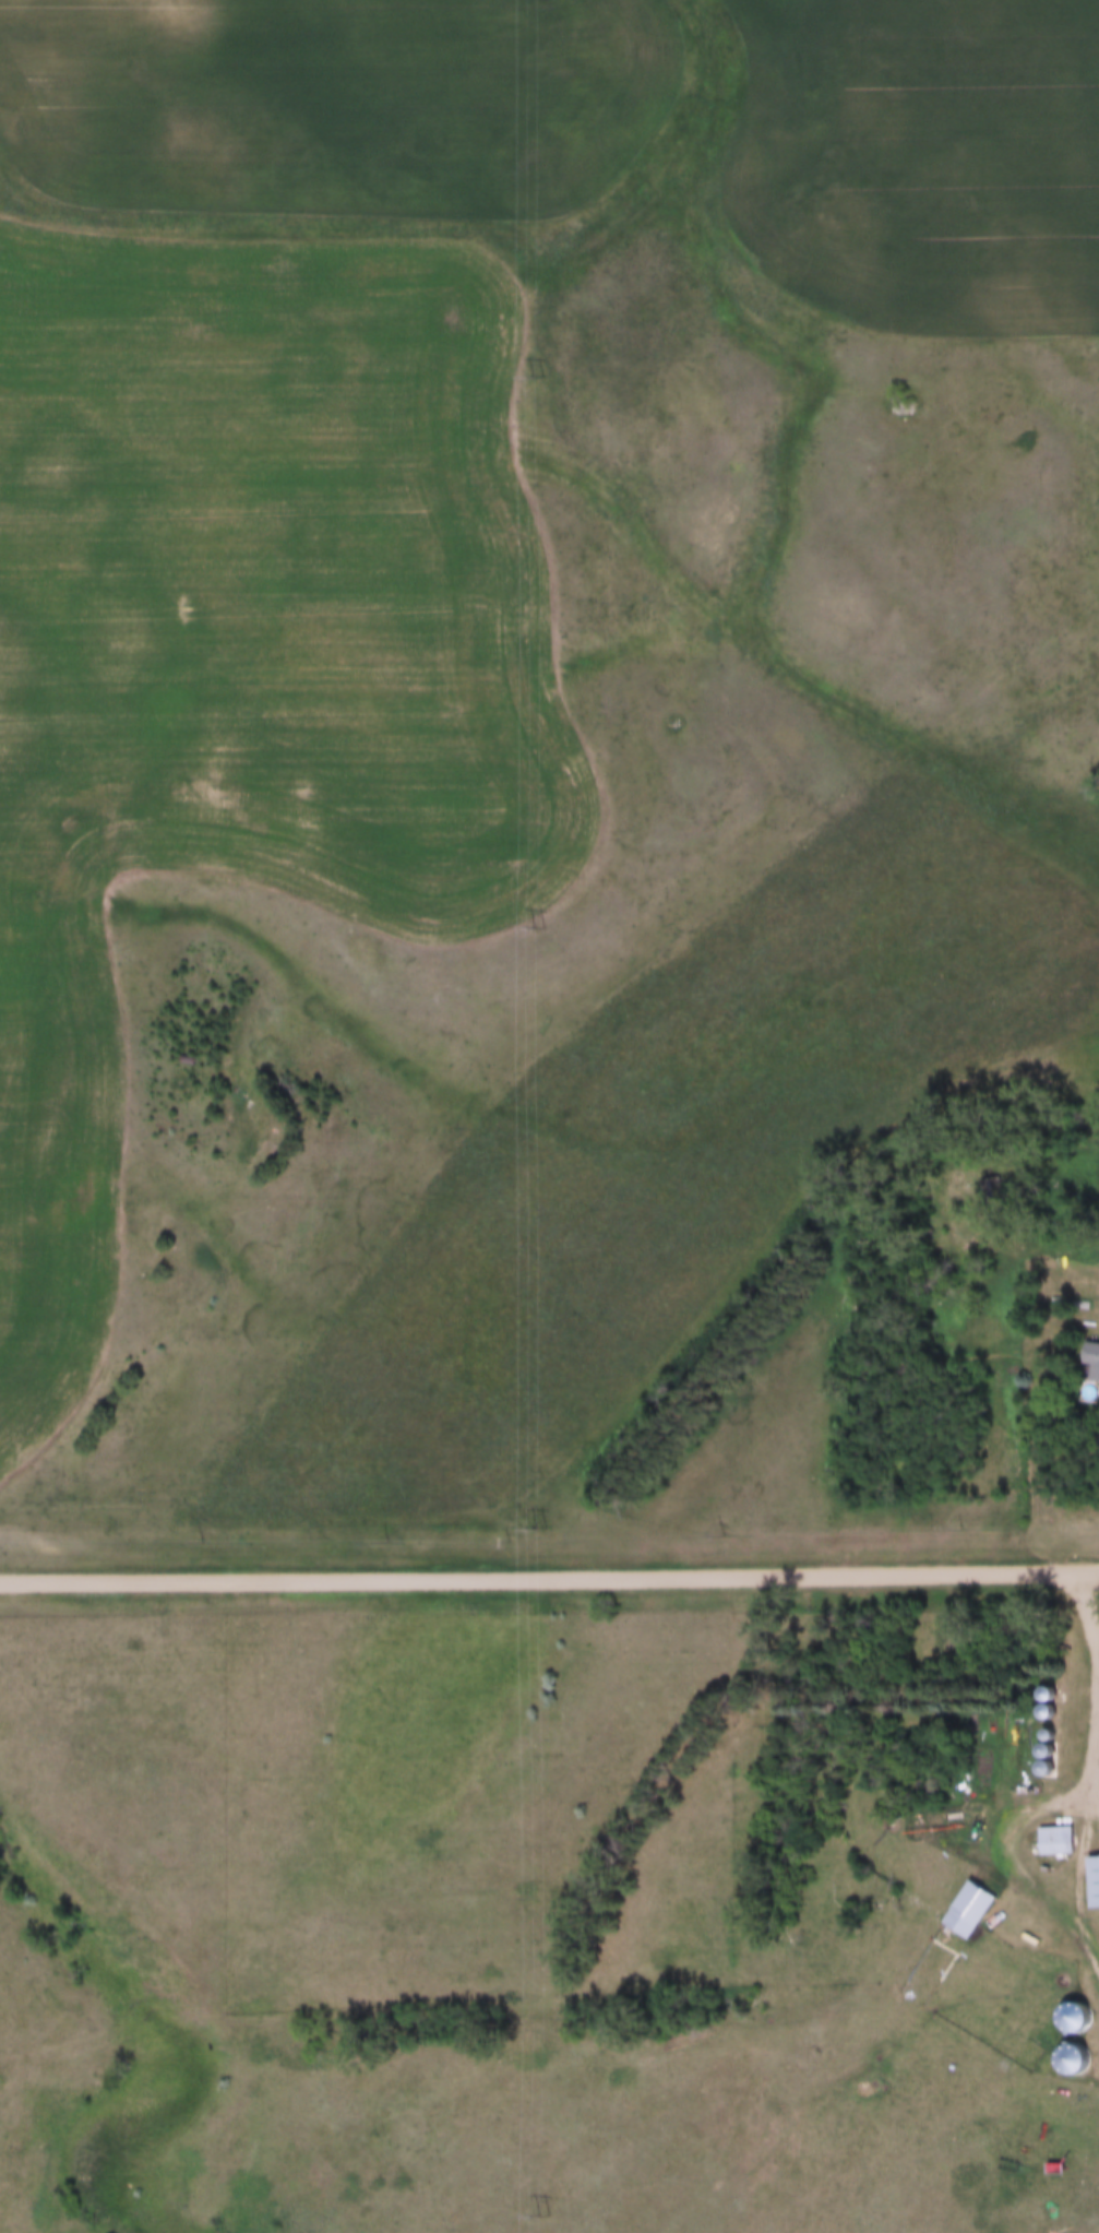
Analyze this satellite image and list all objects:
power tower: (536, 378)
power tower: (540, 926)
building: (990, 1189)
building: (1092, 1363)
power tower: (540, 1528)
road: (549, 1579)
road: (1092, 1616)
building: (1053, 1743)
road: (1097, 1779)
building: (1060, 1839)
building: (1096, 1885)
building: (973, 1911)
power tower: (541, 2214)

